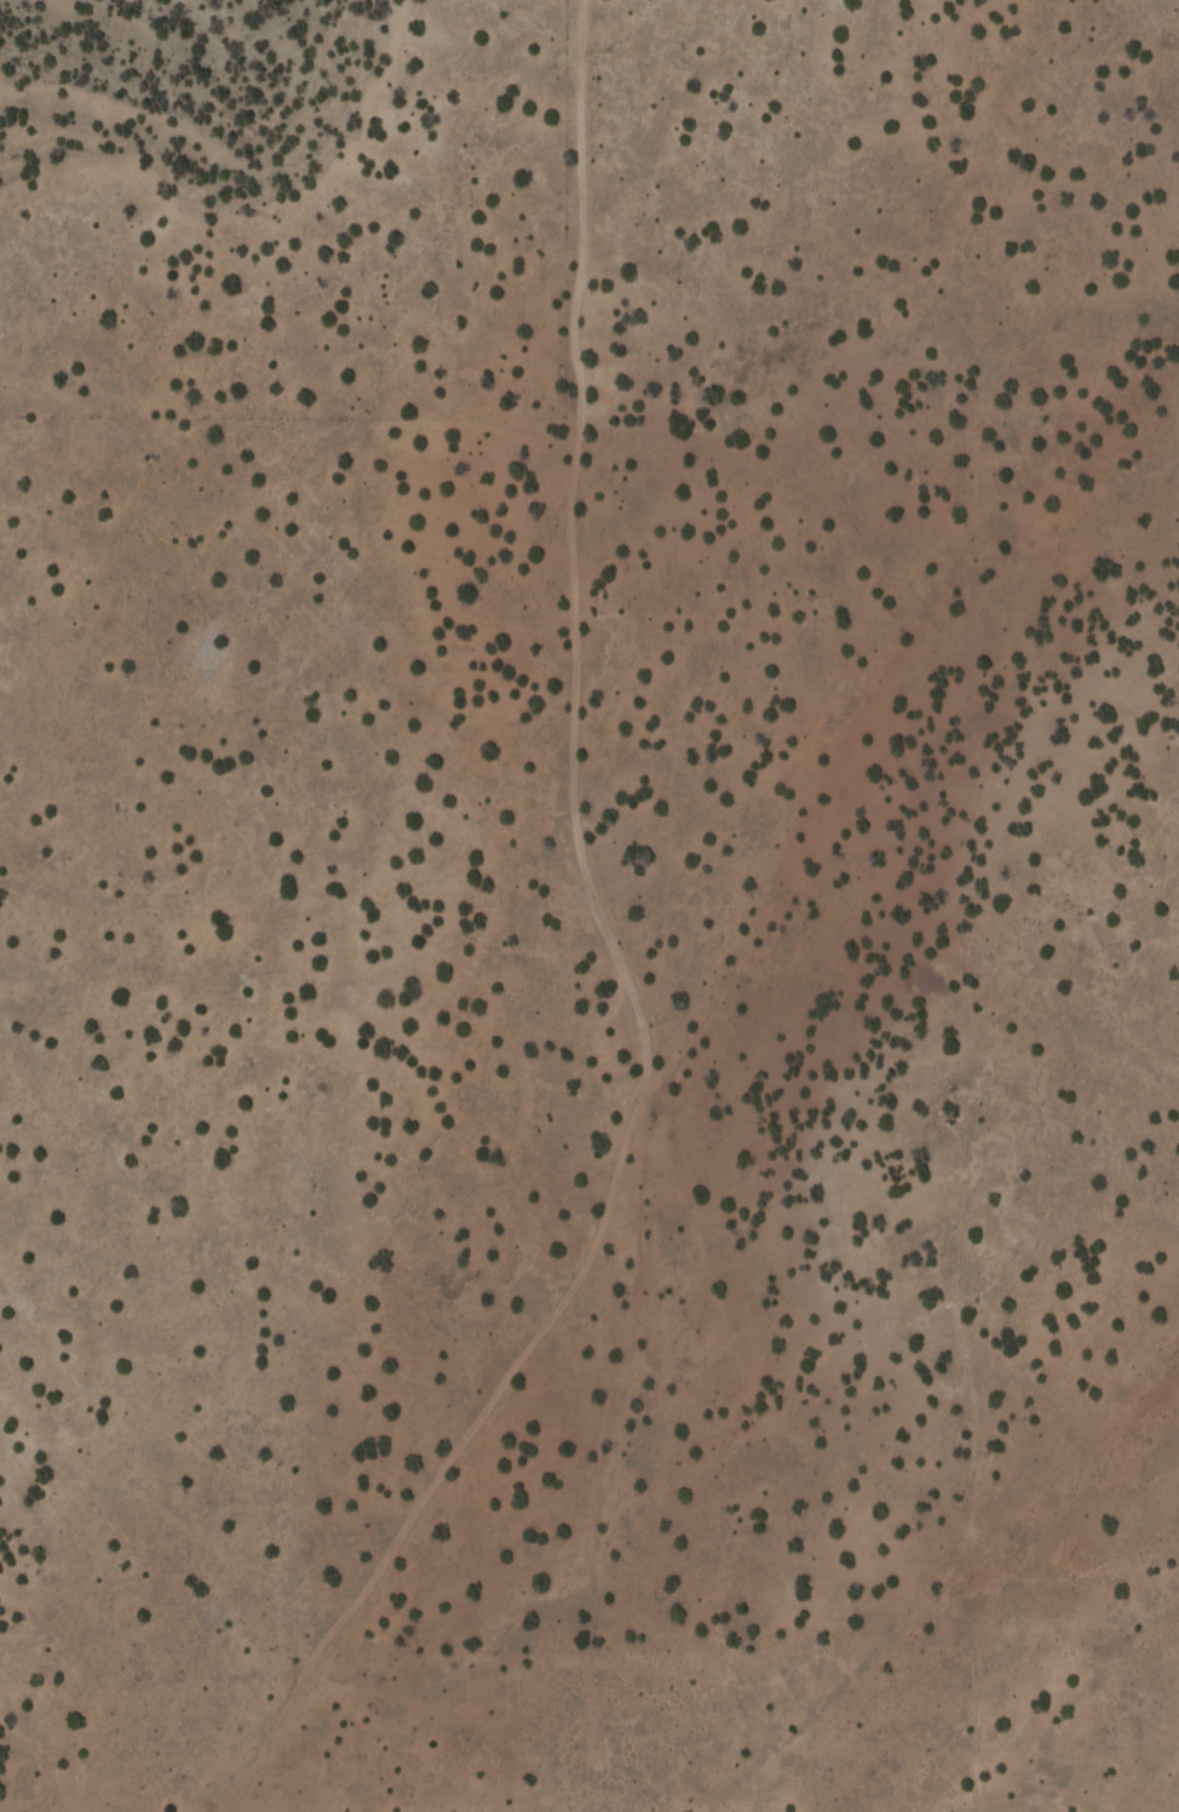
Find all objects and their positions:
road: (603, 929)

